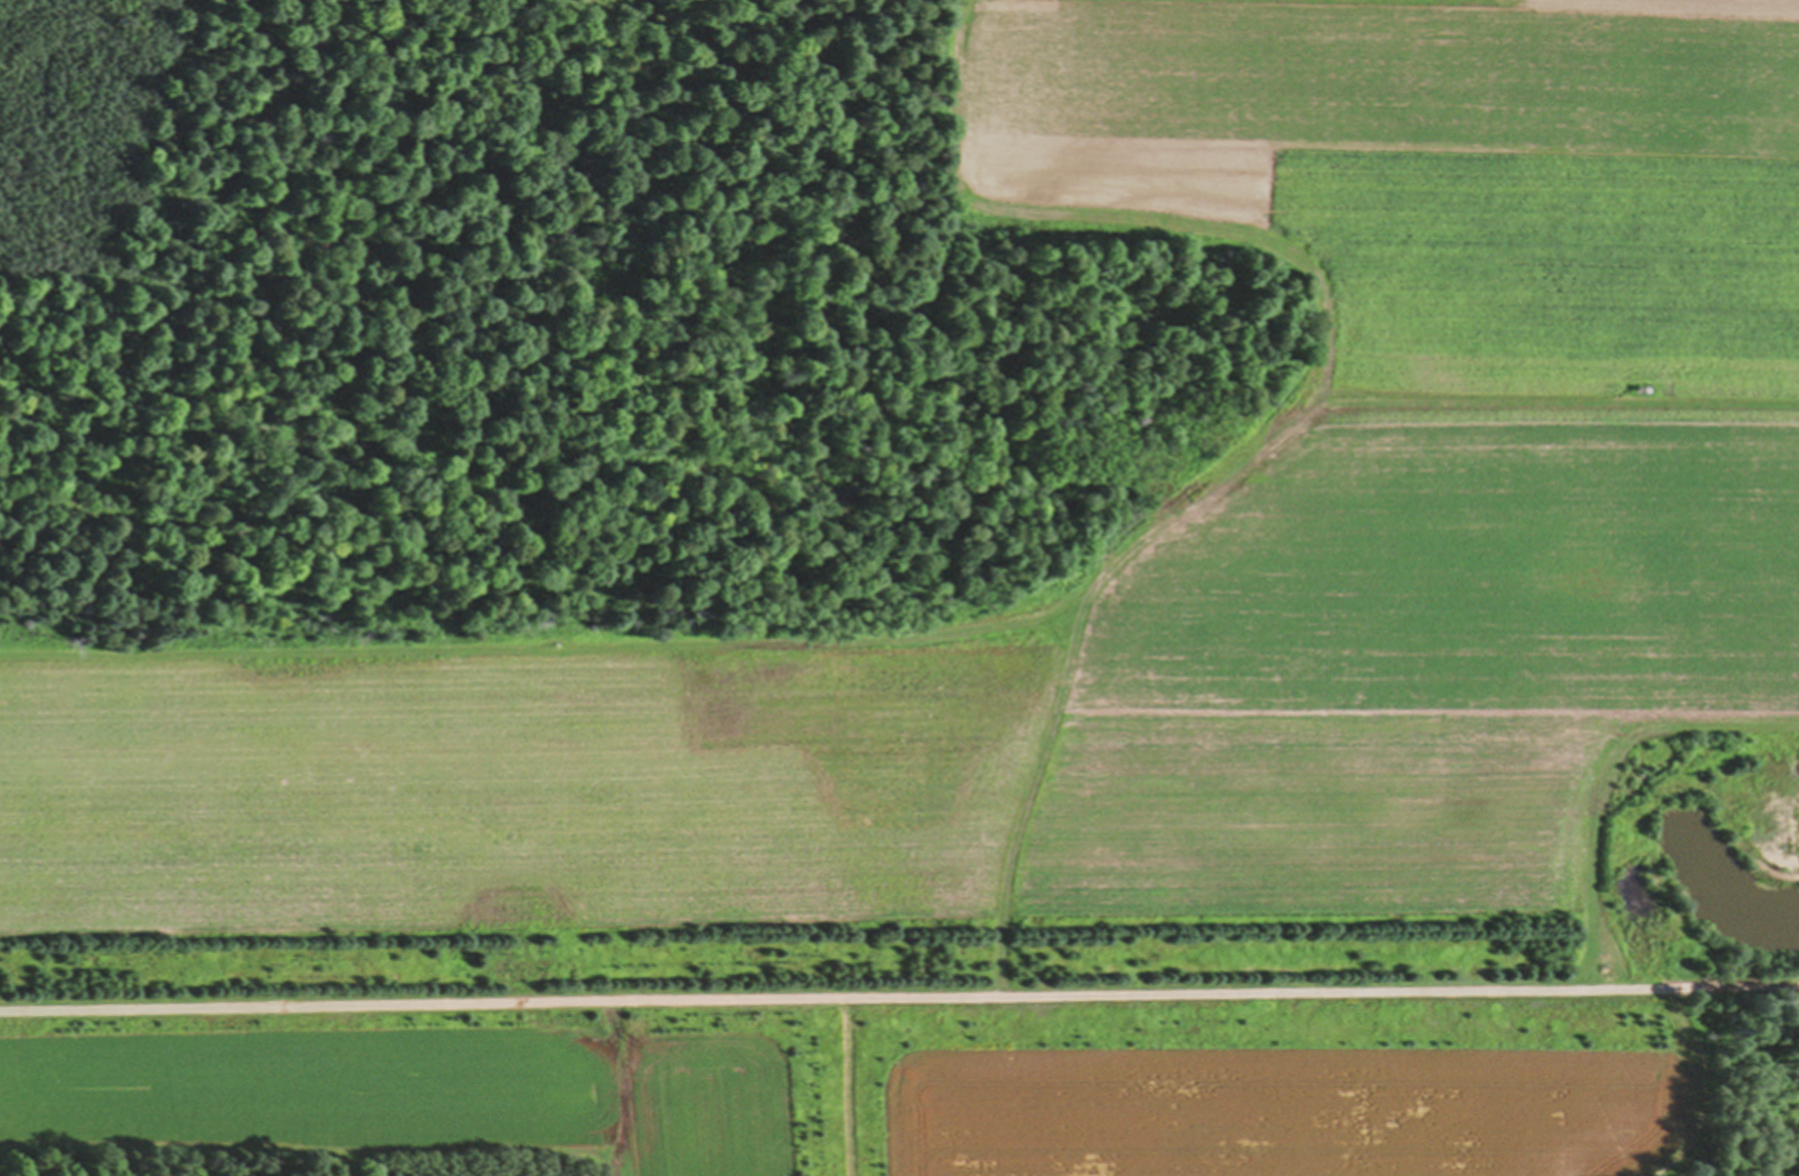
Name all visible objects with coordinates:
road: (898, 997)

